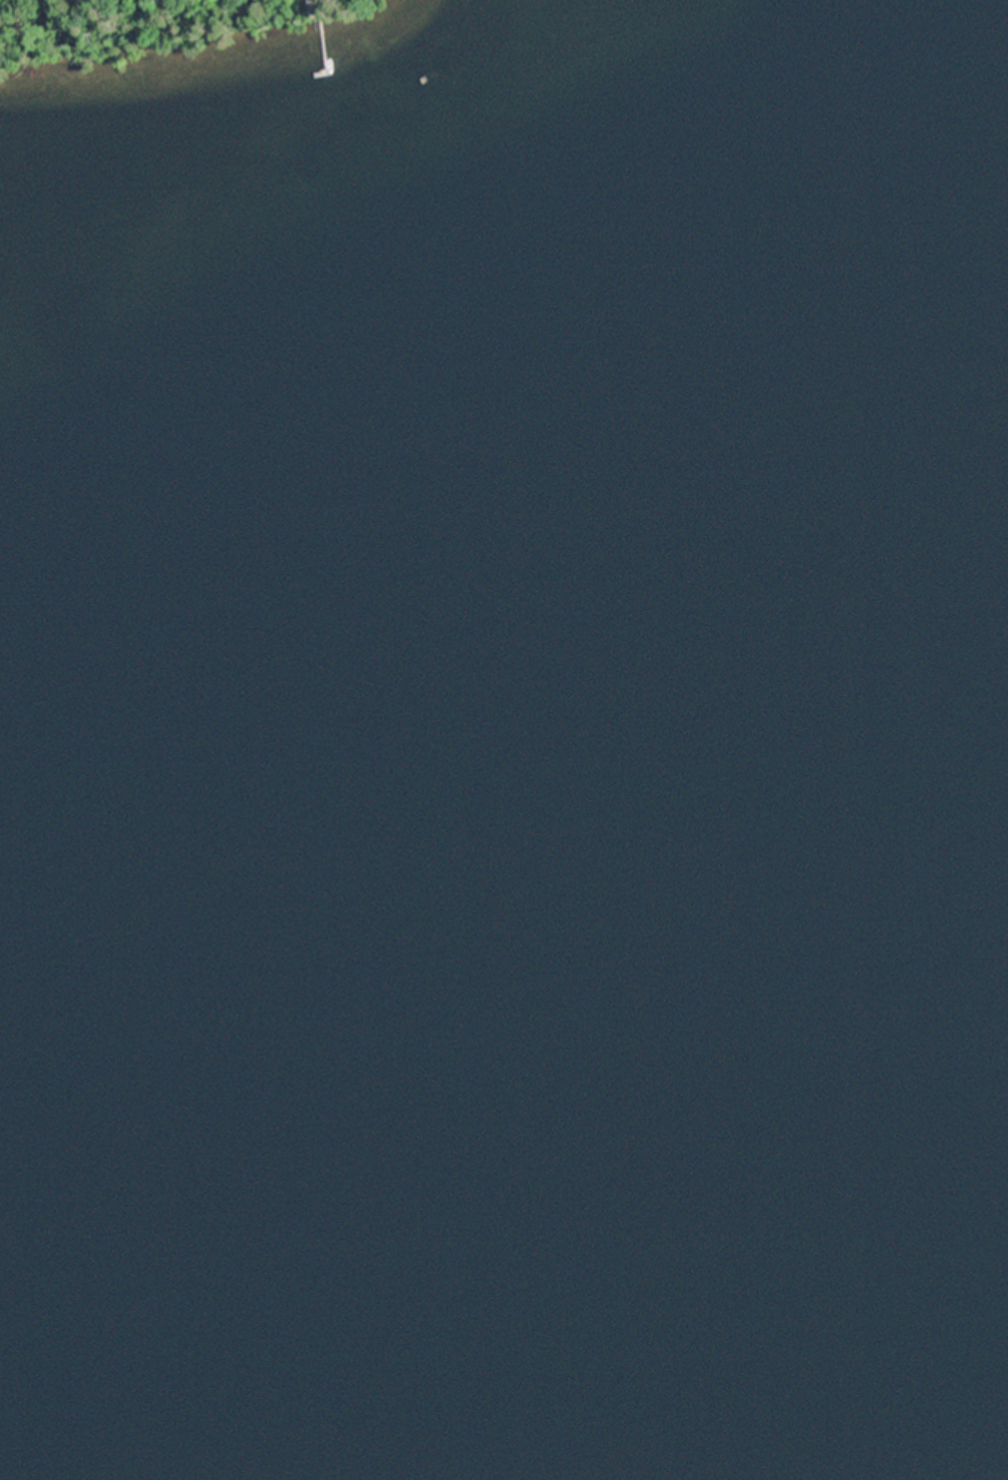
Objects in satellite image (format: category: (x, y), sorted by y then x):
river: (93, 1380)

